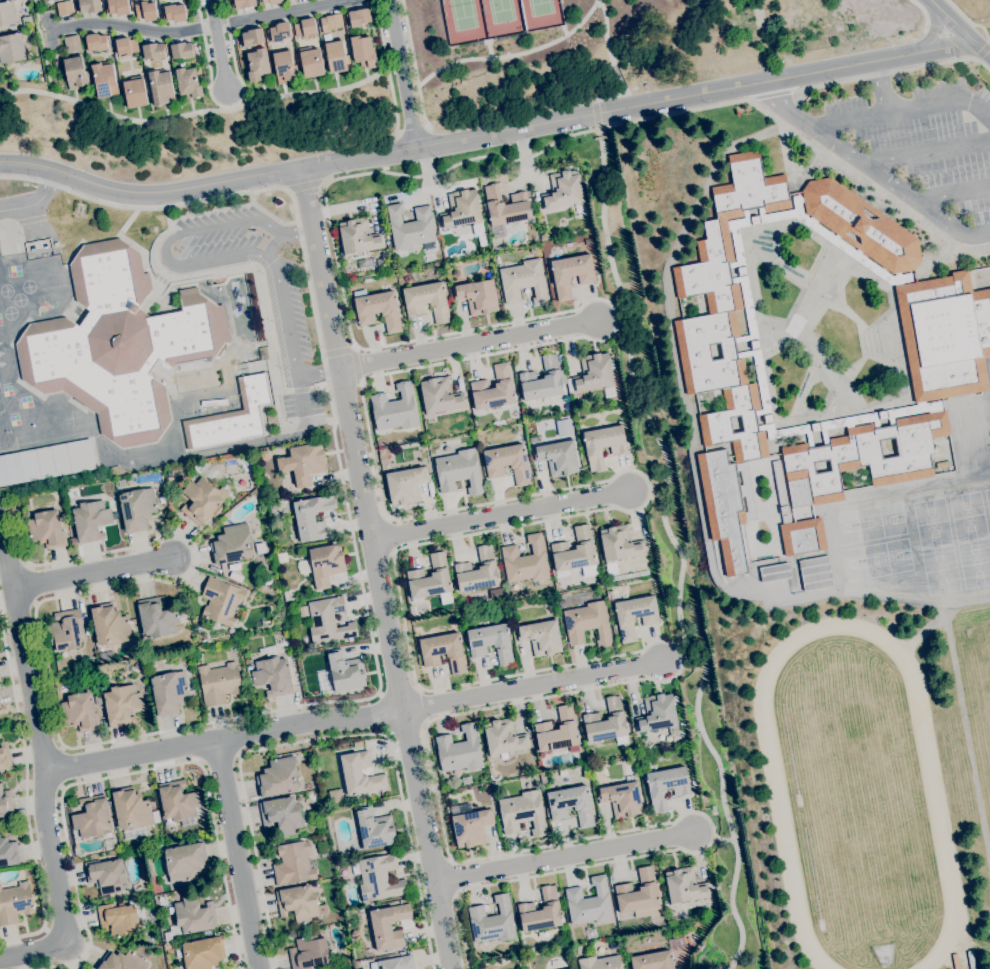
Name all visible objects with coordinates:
building: (283, 0)
building: (273, 1)
road: (597, 1)
building: (244, 4)
building: (89, 5)
building: (118, 6)
road: (932, 6)
building: (65, 8)
park: (540, 8)
building: (145, 10)
road: (925, 10)
building: (175, 12)
park: (502, 12)
building: (7, 14)
park: (496, 14)
park: (463, 15)
building: (359, 16)
building: (331, 22)
park: (983, 25)
road: (199, 27)
building: (305, 27)
road: (955, 27)
road: (46, 28)
building: (280, 31)
road: (934, 33)
road: (985, 33)
building: (252, 36)
road: (954, 38)
building: (96, 41)
building: (72, 43)
road: (216, 45)
building: (126, 46)
road: (947, 46)
road: (540, 47)
building: (11, 48)
park: (624, 49)
building: (181, 50)
road: (981, 50)
building: (153, 51)
building: (363, 51)
road: (983, 51)
road: (232, 53)
road: (206, 55)
road: (899, 56)
building: (336, 57)
building: (310, 61)
road: (413, 63)
road: (386, 64)
building: (257, 65)
building: (284, 66)
building: (75, 71)
road: (383, 71)
road: (401, 73)
road: (874, 76)
building: (104, 80)
building: (188, 83)
building: (161, 87)
road: (883, 88)
building: (134, 91)
road: (618, 94)
road: (595, 112)
road: (905, 114)
road: (184, 116)
road: (412, 128)
road: (437, 143)
road: (926, 152)
road: (870, 170)
road: (301, 185)
building: (563, 190)
road: (953, 194)
road: (34, 198)
building: (506, 206)
building: (578, 208)
building: (463, 211)
road: (31, 219)
road: (165, 219)
road: (8, 223)
building: (383, 223)
building: (861, 225)
building: (411, 228)
road: (283, 234)
building: (358, 237)
road: (8, 239)
building: (553, 250)
road: (206, 261)
building: (381, 264)
building: (353, 266)
park: (14, 270)
building: (571, 273)
road: (198, 274)
building: (407, 279)
building: (524, 281)
park: (27, 286)
park: (5, 290)
building: (477, 296)
park: (18, 299)
building: (427, 300)
building: (377, 309)
building: (749, 310)
park: (9, 313)
road: (622, 316)
building: (945, 335)
building: (119, 344)
road: (468, 345)
road: (337, 348)
building: (725, 357)
building: (560, 358)
road: (358, 364)
road: (319, 374)
building: (594, 374)
building: (543, 380)
road: (316, 387)
building: (493, 389)
road: (299, 390)
road: (285, 391)
building: (439, 396)
road: (301, 397)
park: (1, 406)
building: (394, 409)
building: (232, 416)
building: (431, 418)
road: (329, 421)
road: (311, 423)
park: (4, 433)
road: (256, 443)
building: (603, 444)
building: (381, 452)
building: (558, 457)
building: (863, 457)
building: (240, 460)
building: (46, 462)
building: (303, 462)
building: (508, 463)
building: (458, 471)
building: (170, 480)
building: (405, 485)
road: (655, 496)
building: (201, 500)
building: (137, 508)
road: (588, 512)
building: (312, 517)
road: (502, 518)
building: (90, 521)
building: (796, 525)
building: (46, 529)
building: (619, 544)
building: (232, 545)
building: (260, 548)
road: (678, 549)
building: (574, 551)
building: (281, 555)
building: (525, 561)
road: (5, 562)
building: (323, 564)
building: (235, 566)
road: (380, 567)
building: (477, 571)
building: (774, 572)
road: (92, 573)
building: (630, 575)
building: (430, 578)
building: (589, 596)
building: (221, 601)
building: (547, 605)
building: (501, 609)
building: (303, 611)
building: (635, 615)
building: (157, 618)
building: (328, 621)
building: (587, 623)
building: (110, 625)
building: (66, 630)
building: (541, 637)
road: (681, 641)
building: (490, 642)
building: (268, 651)
building: (443, 651)
building: (137, 666)
building: (106, 667)
building: (342, 673)
building: (273, 676)
building: (219, 683)
building: (102, 686)
road: (537, 687)
building: (168, 692)
building: (97, 699)
road: (332, 702)
park: (973, 703)
building: (0, 705)
building: (122, 705)
building: (80, 712)
road: (383, 713)
building: (658, 713)
building: (606, 723)
building: (557, 731)
building: (504, 737)
road: (323, 738)
road: (228, 740)
building: (460, 750)
building: (4, 756)
road: (219, 758)
building: (591, 759)
road: (122, 774)
building: (360, 774)
building: (278, 777)
building: (466, 780)
building: (693, 783)
building: (308, 786)
building: (666, 786)
road: (26, 796)
building: (336, 796)
road: (42, 799)
building: (622, 799)
building: (177, 802)
building: (5, 803)
building: (571, 804)
building: (713, 807)
building: (131, 809)
building: (523, 813)
building: (281, 814)
building: (92, 817)
building: (471, 827)
building: (375, 829)
road: (723, 839)
building: (8, 852)
road: (238, 856)
road: (568, 857)
park: (989, 857)
building: (184, 861)
building: (293, 863)
building: (105, 875)
building: (378, 878)
building: (685, 885)
building: (157, 889)
building: (640, 895)
building: (162, 900)
building: (15, 903)
building: (298, 903)
building: (590, 903)
building: (540, 912)
building: (195, 915)
building: (118, 919)
building: (492, 921)
building: (388, 925)
building: (591, 933)
building: (355, 934)
building: (308, 952)
building: (201, 953)
building: (970, 960)
building: (122, 961)
building: (655, 961)
building: (955, 961)
building: (359, 963)
building: (397, 963)
building: (600, 963)

